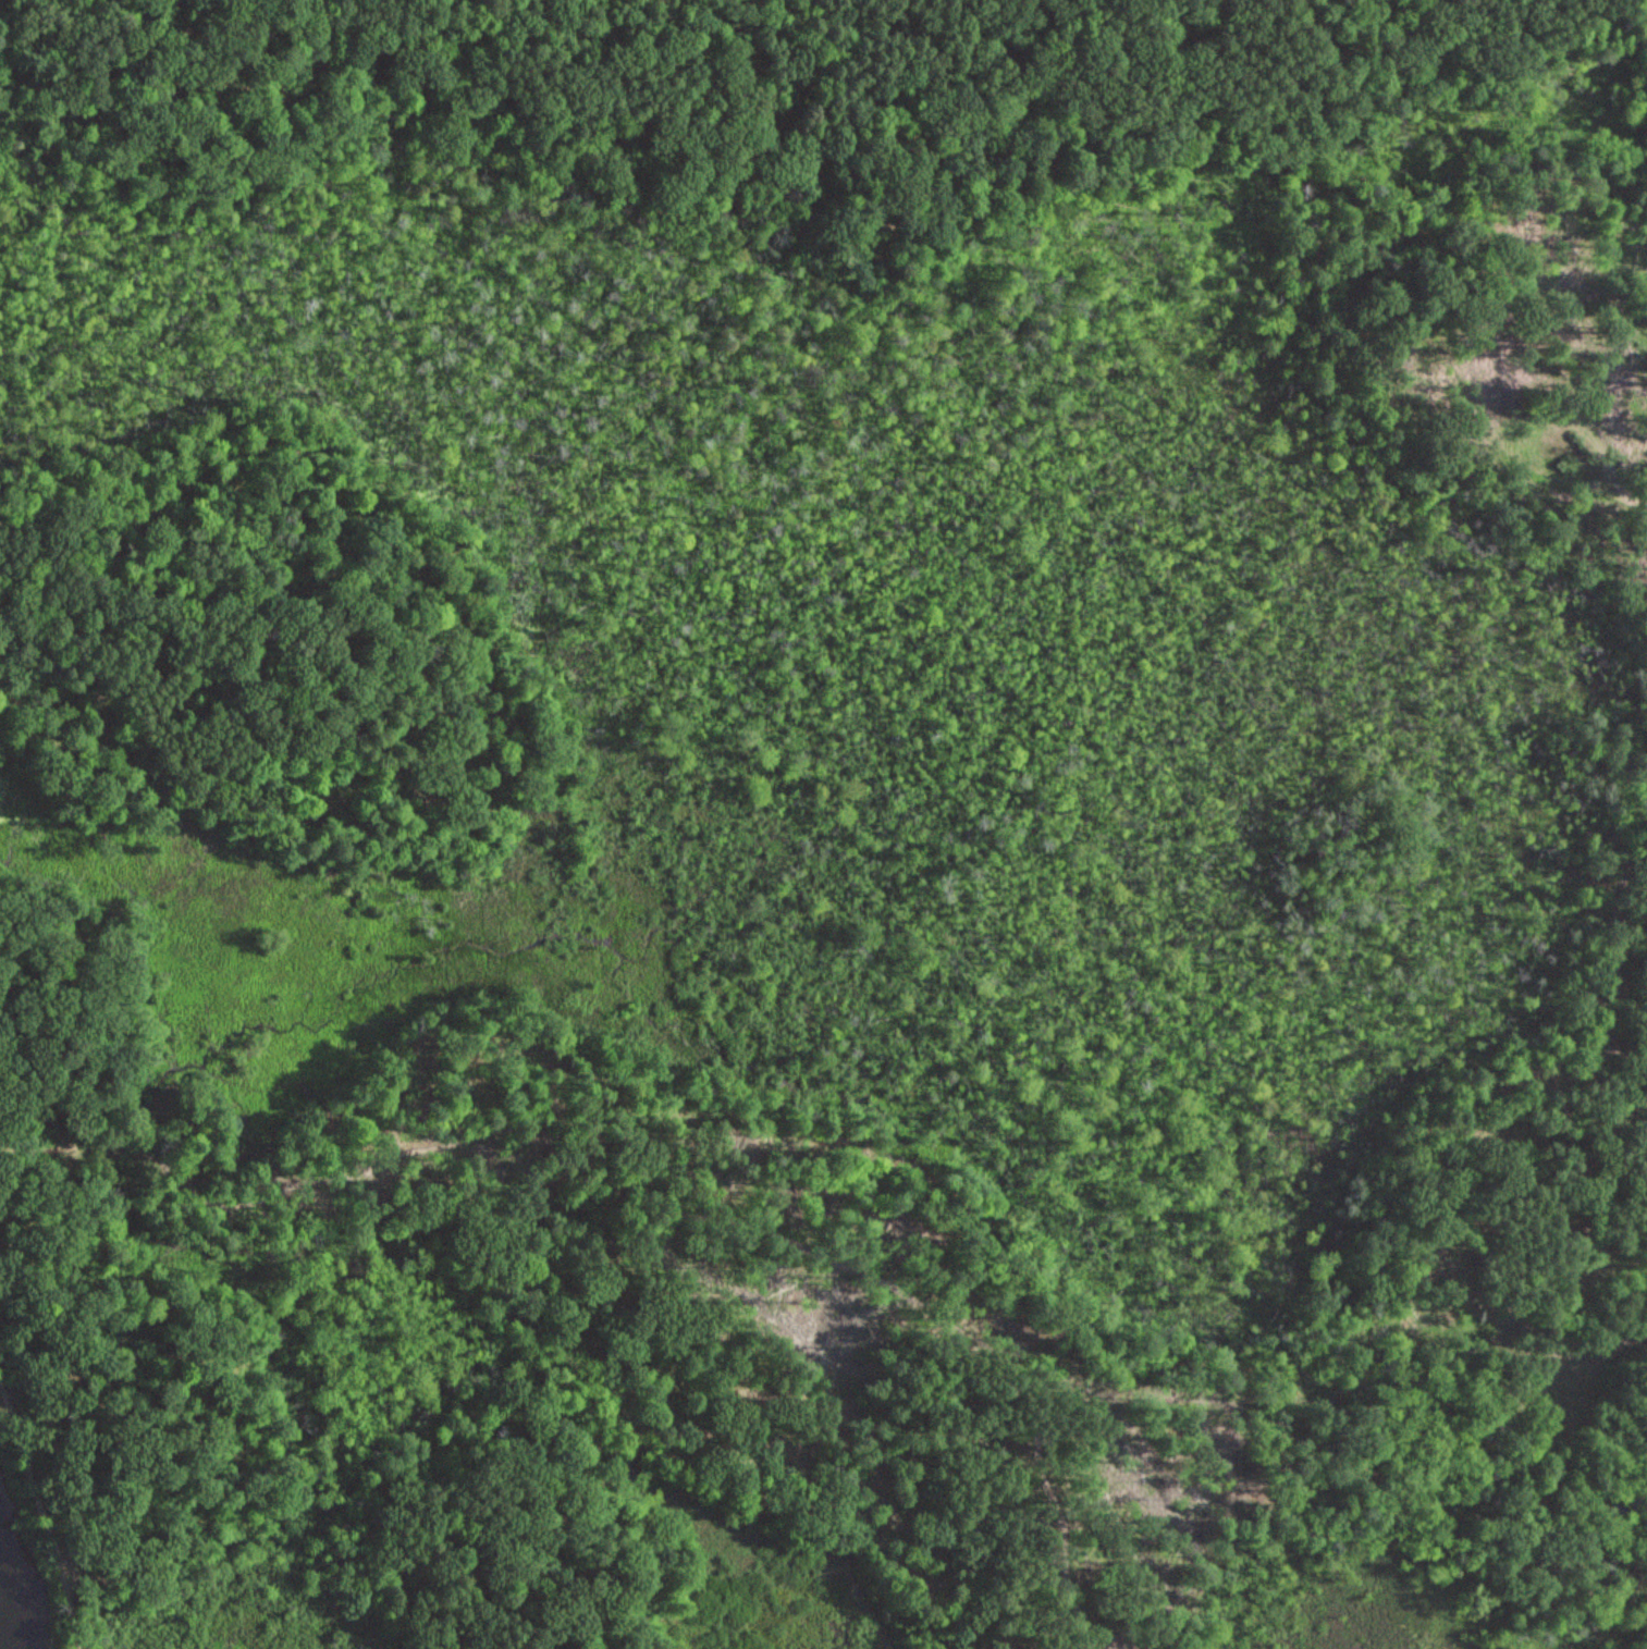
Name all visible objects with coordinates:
road: (922, 1307)
road: (41, 1501)

